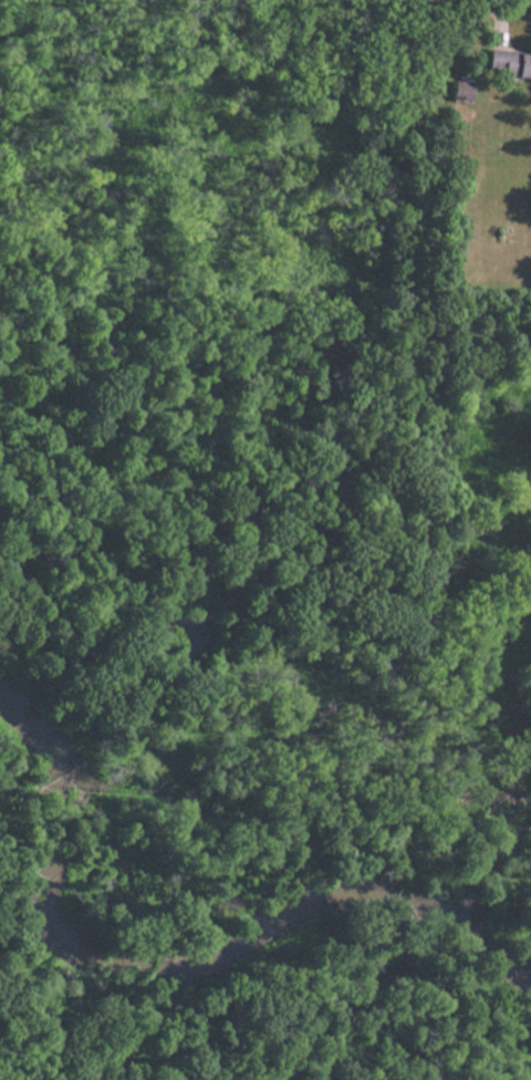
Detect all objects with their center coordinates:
building: (509, 63)
river: (180, 974)

